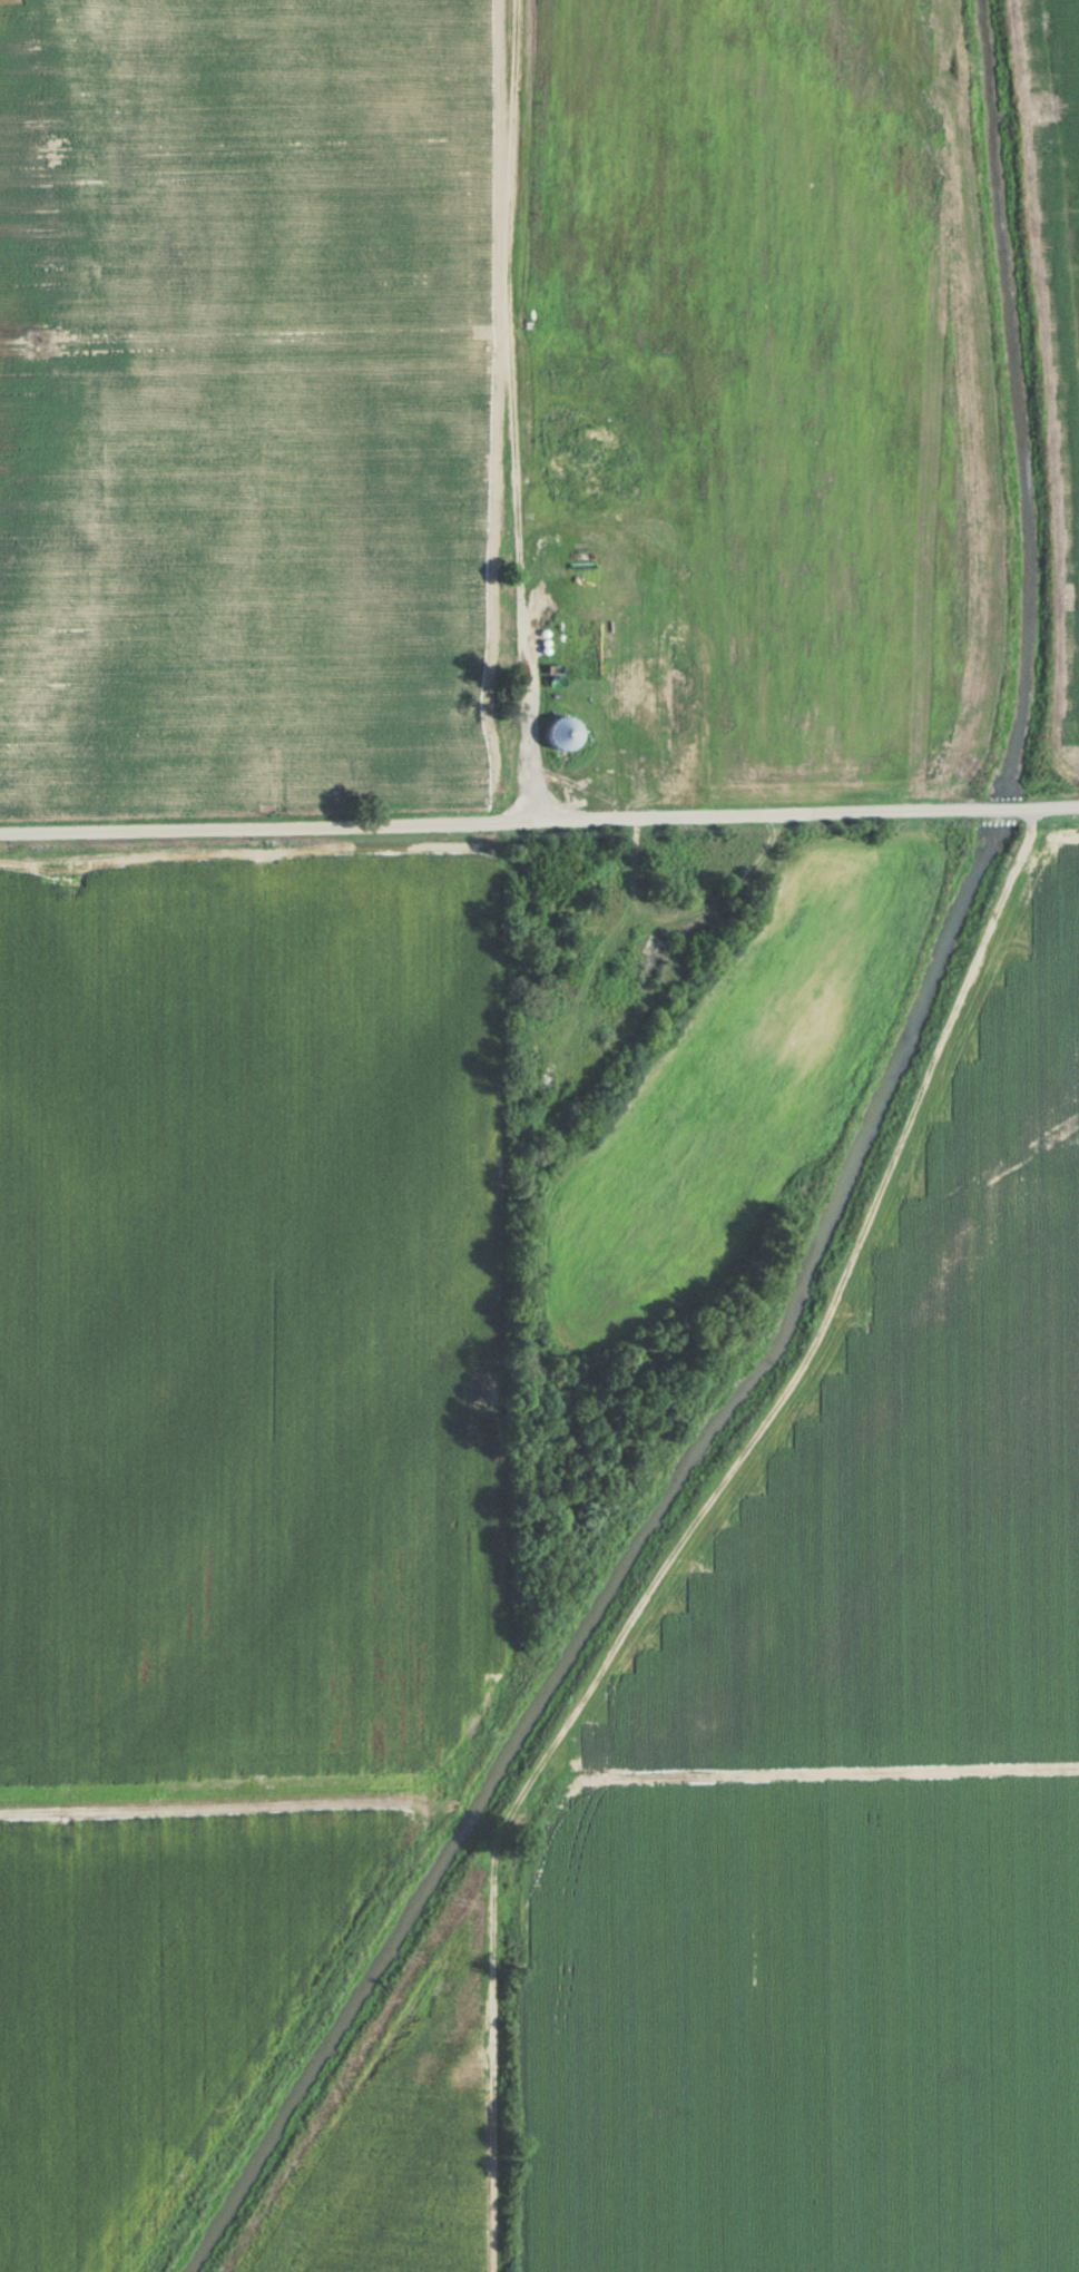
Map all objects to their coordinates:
road: (521, 628)
road: (539, 819)

